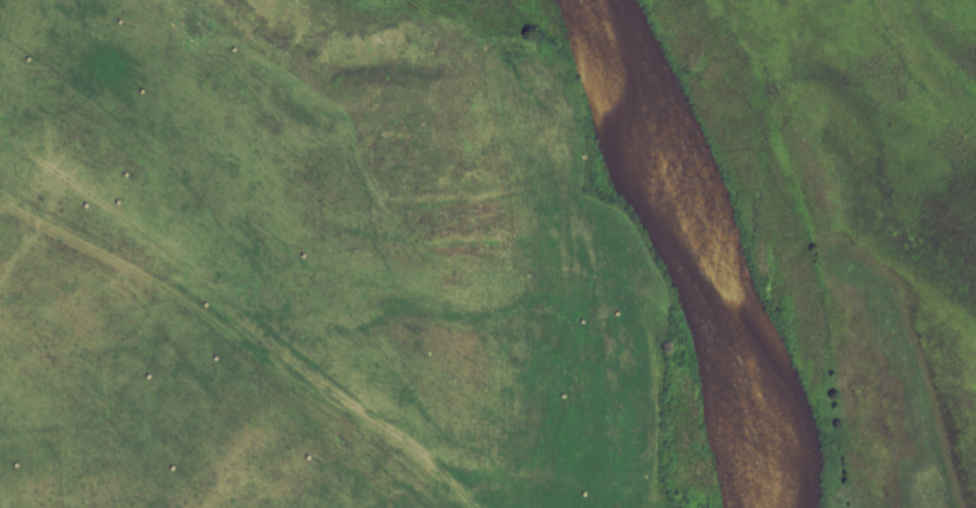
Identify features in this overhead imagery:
river: (690, 250)

